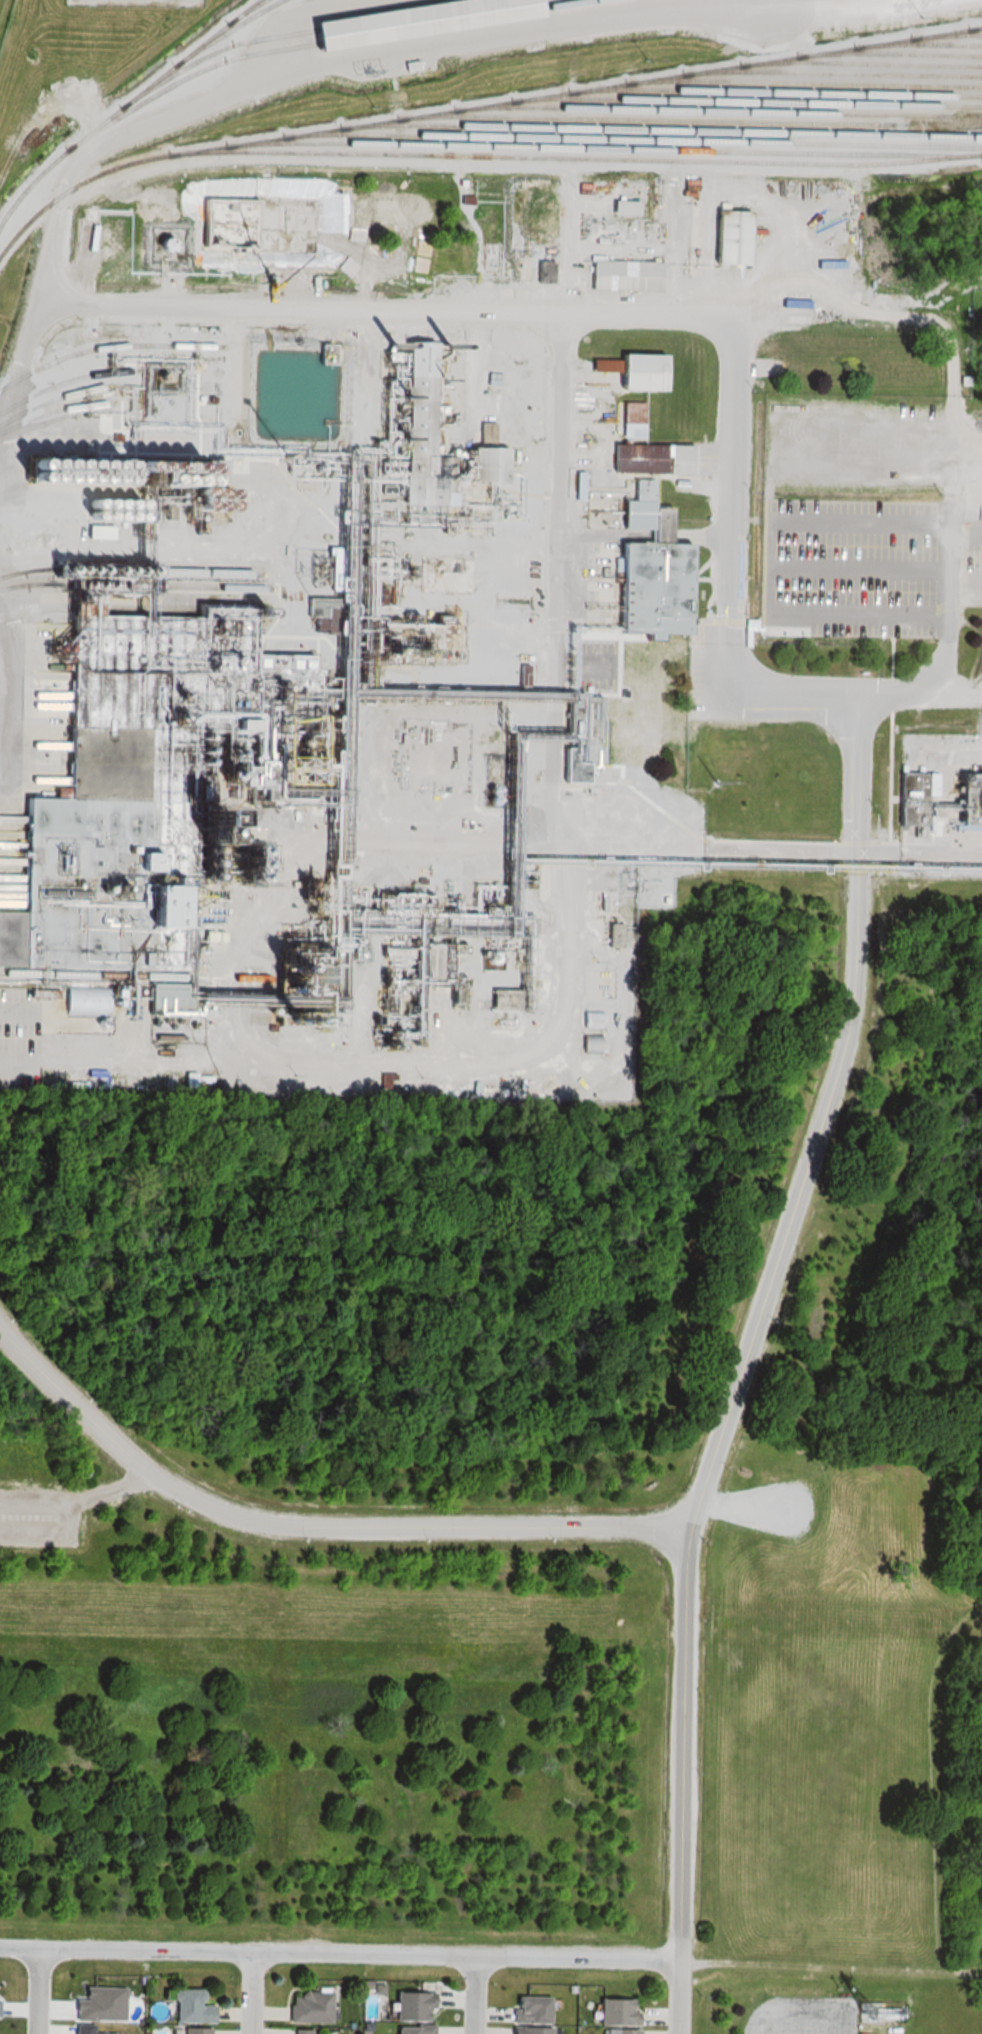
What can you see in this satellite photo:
building: (417, 19)
building: (731, 238)
building: (624, 278)
building: (638, 372)
building: (629, 416)
building: (423, 433)
building: (651, 459)
building: (485, 464)
building: (442, 629)
building: (623, 641)
building: (908, 799)
building: (103, 851)
building: (504, 1000)
building: (85, 1005)
park: (816, 1702)
building: (410, 2005)
building: (185, 2006)
building: (302, 2006)
building: (613, 2011)
building: (524, 2014)
building: (408, 2029)
building: (189, 2031)
building: (619, 2031)
building: (293, 2032)

